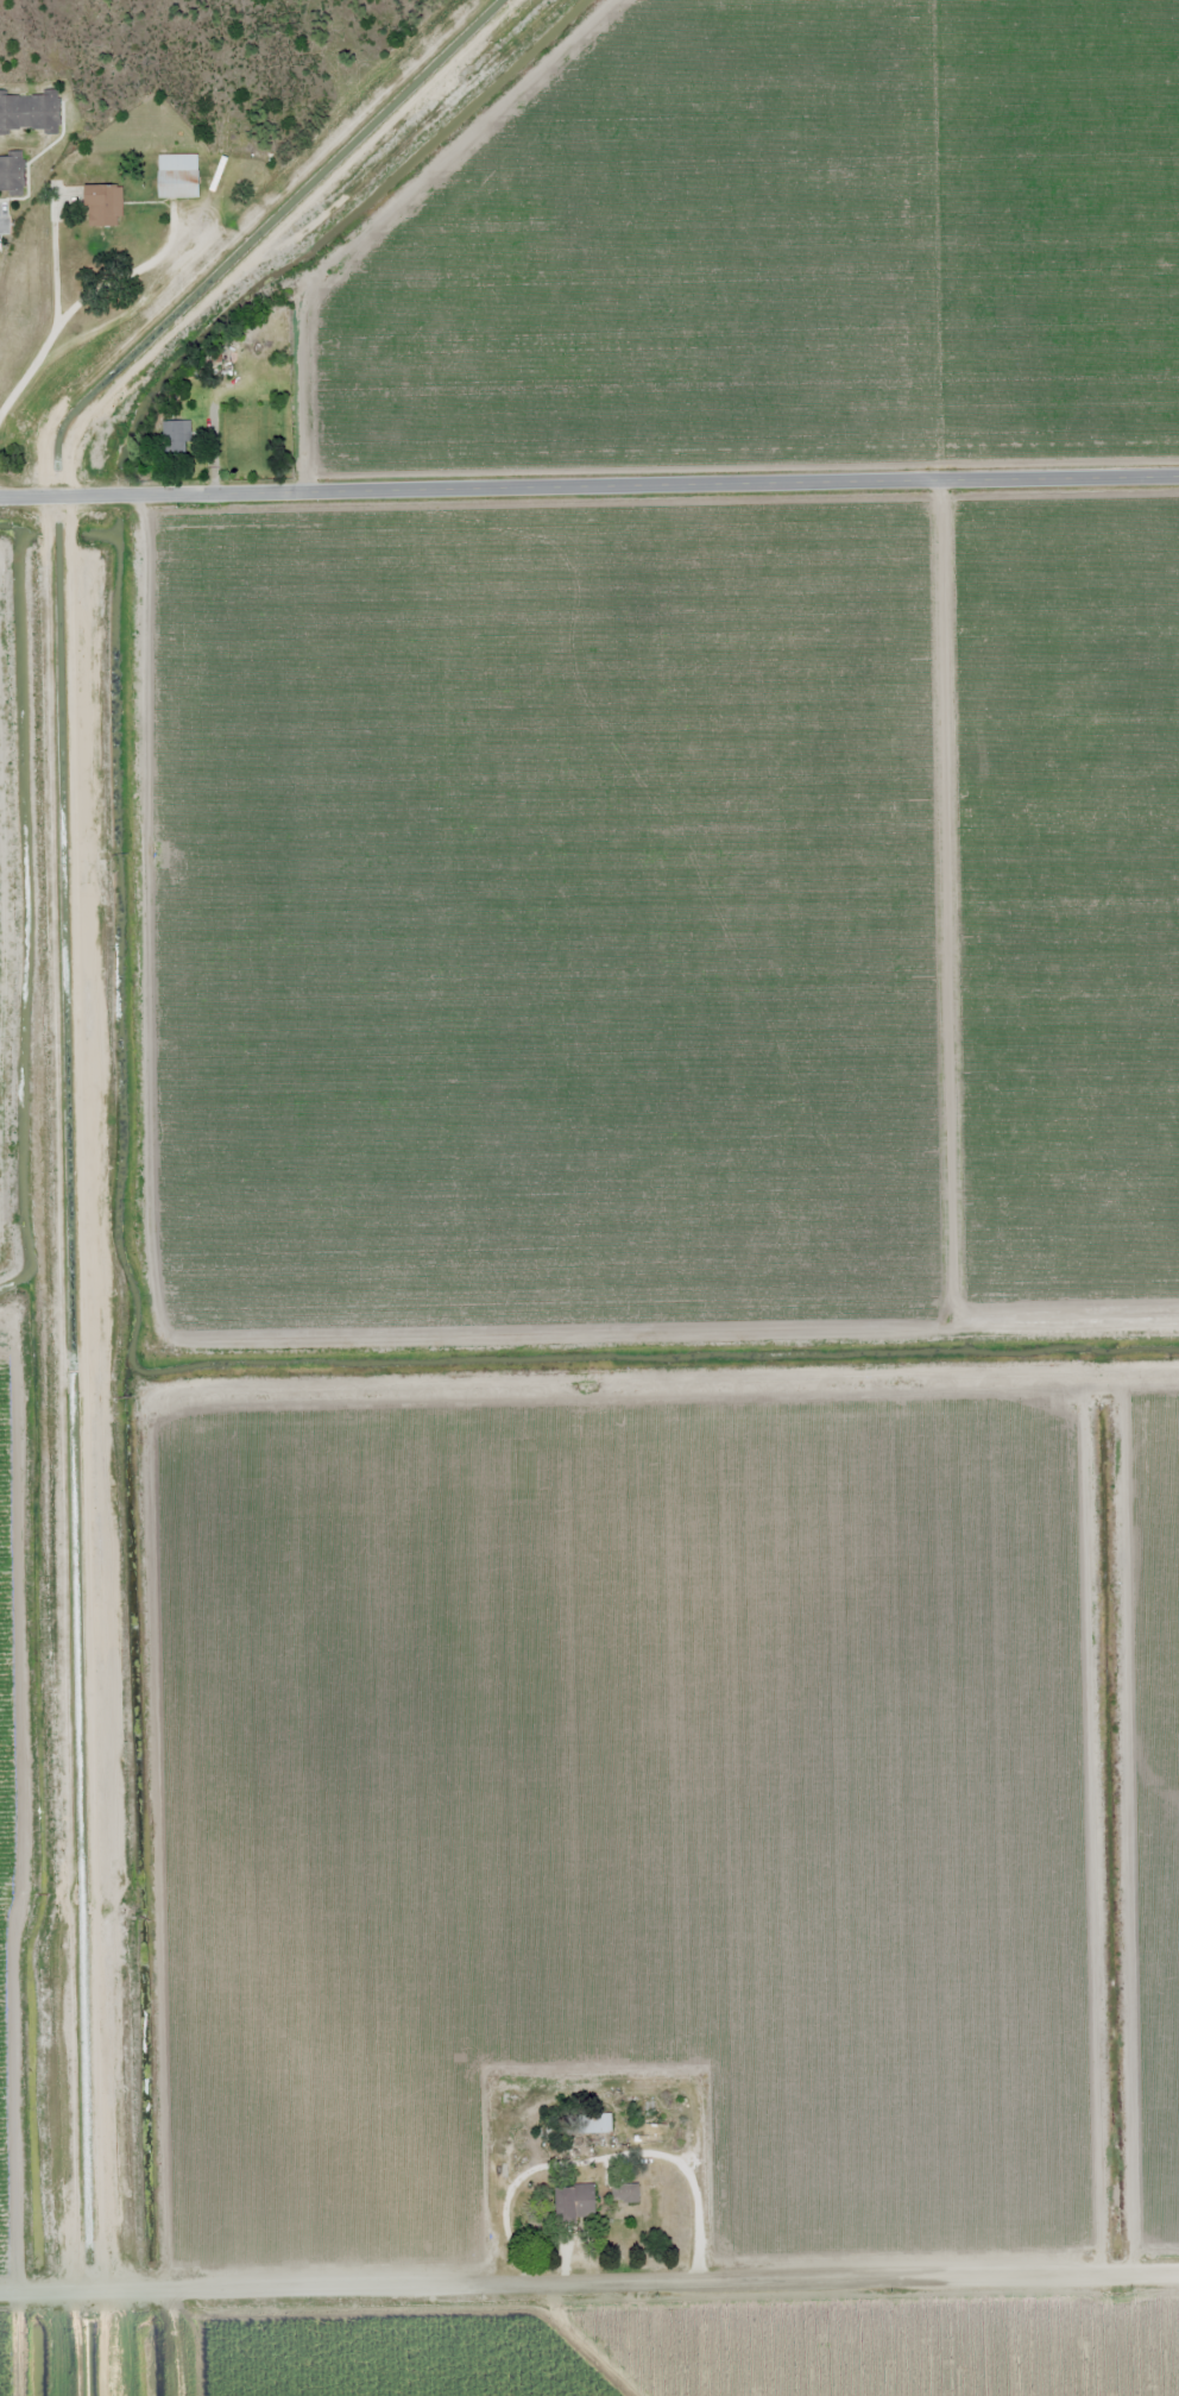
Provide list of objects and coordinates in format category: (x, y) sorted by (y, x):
building: (29, 112)
building: (11, 175)
building: (177, 176)
building: (103, 206)
road: (32, 386)
building: (172, 449)
road: (589, 491)
railway: (589, 1011)
building: (595, 2124)
building: (556, 2128)
building: (625, 2193)
building: (573, 2202)
road: (589, 2284)

